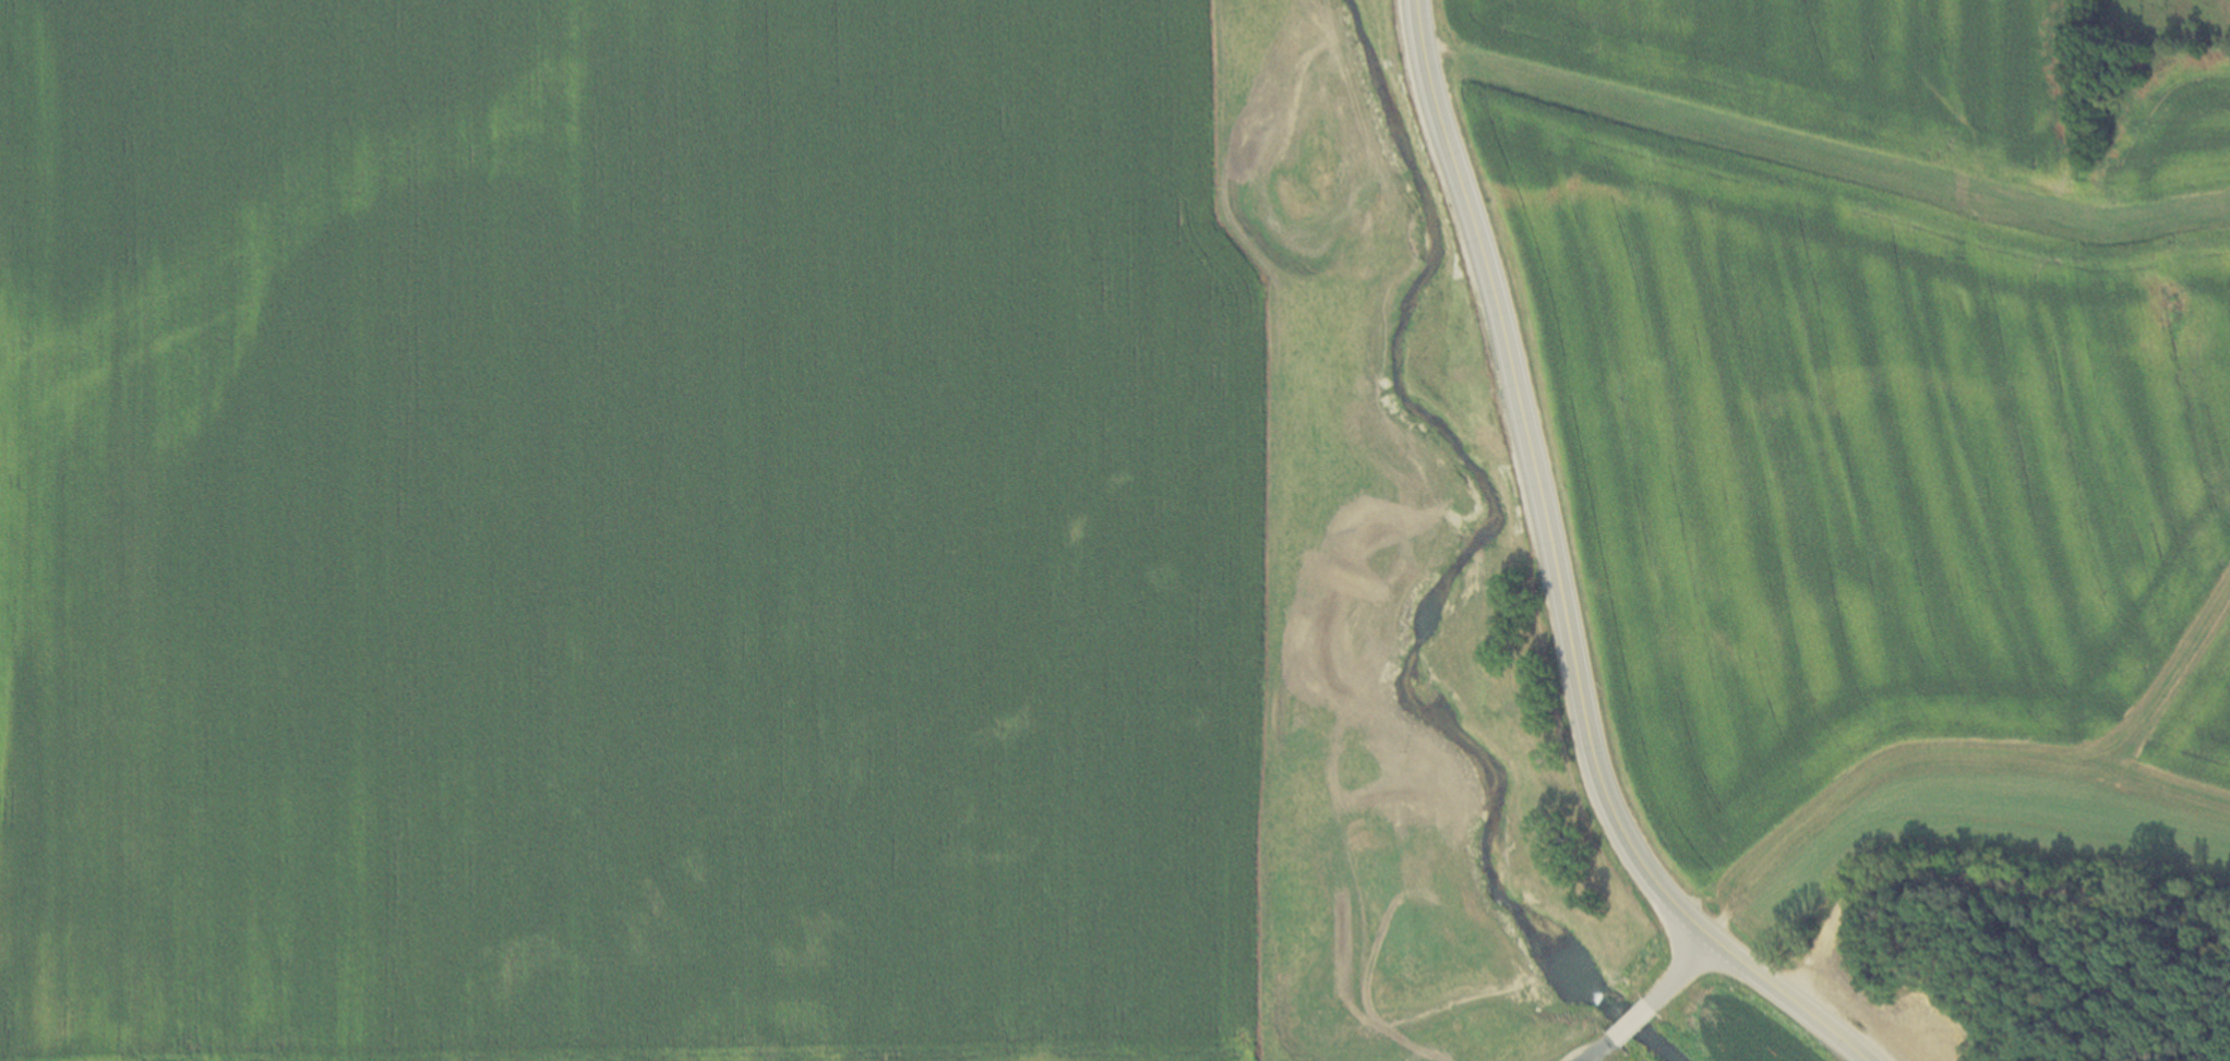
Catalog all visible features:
road: (1542, 486)
road: (1790, 998)
road: (1654, 1010)

